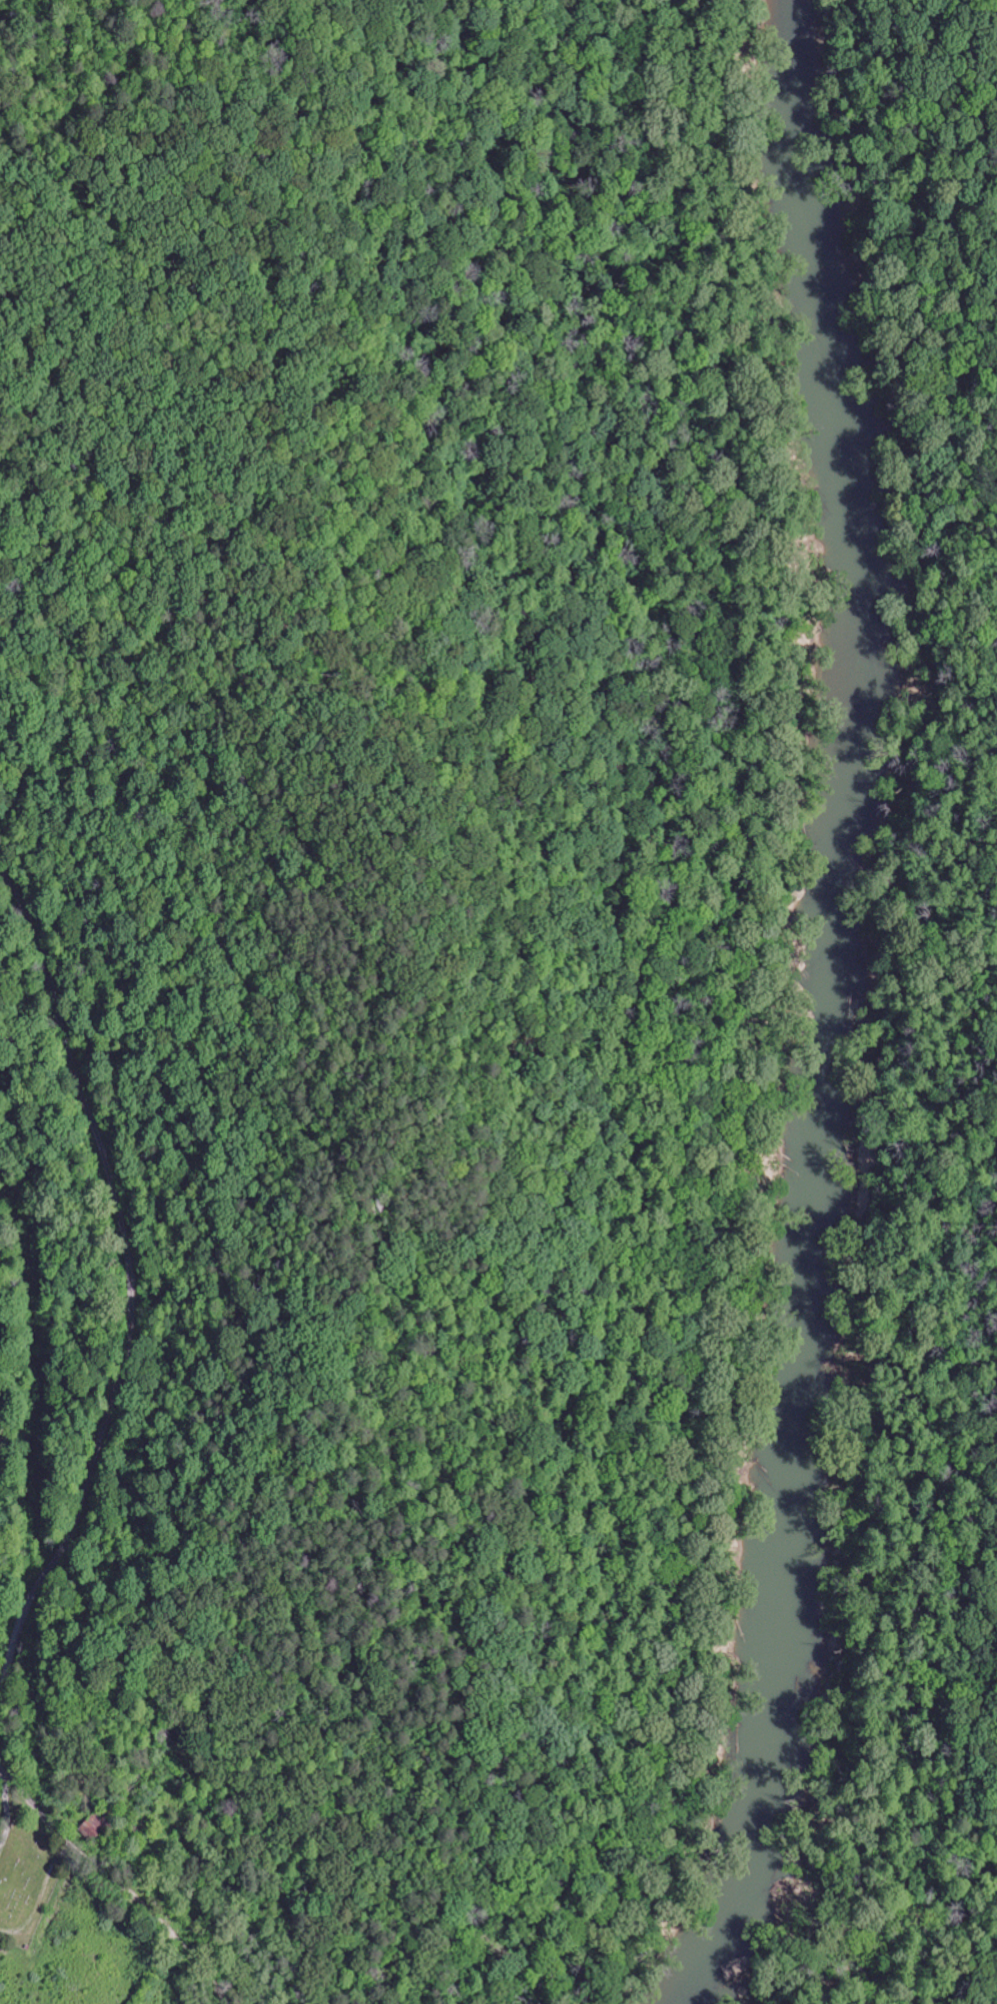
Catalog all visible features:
road: (958, 999)
river: (827, 1010)
road: (132, 1281)
road: (76, 1849)
park: (23, 1871)

